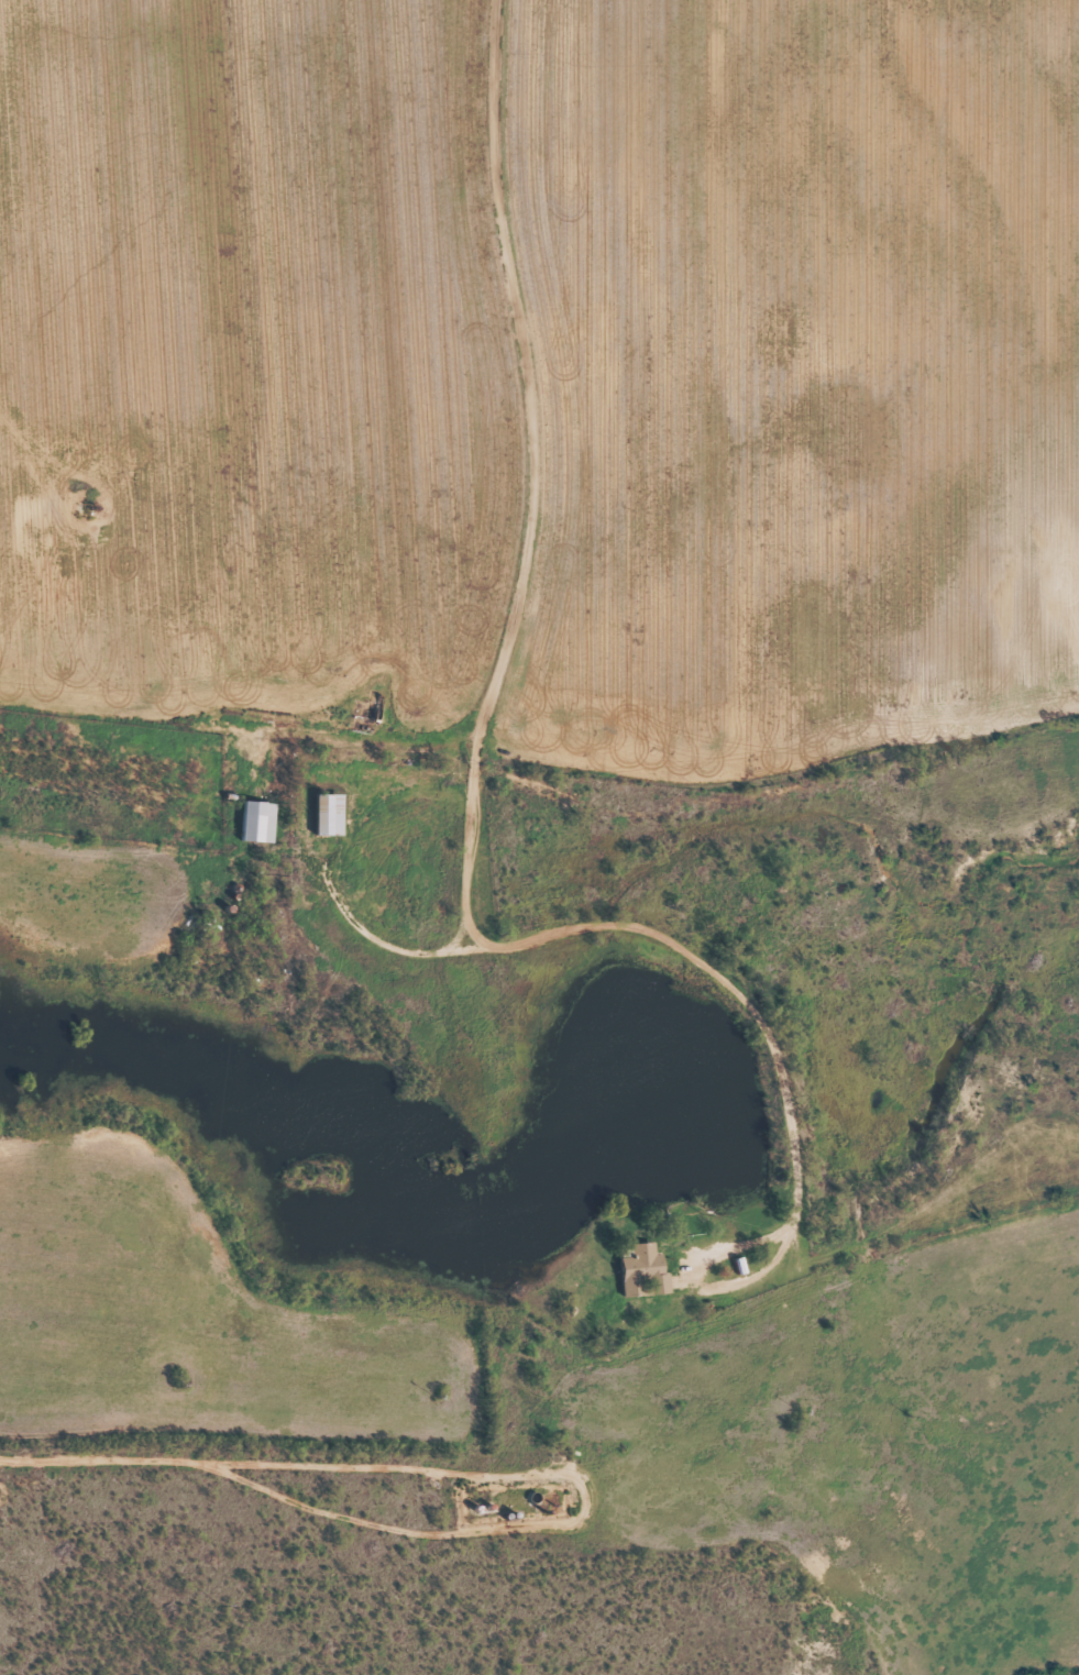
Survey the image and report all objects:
building: (328, 814)
building: (257, 820)
road: (711, 976)
road: (692, 1298)
road: (527, 1478)

